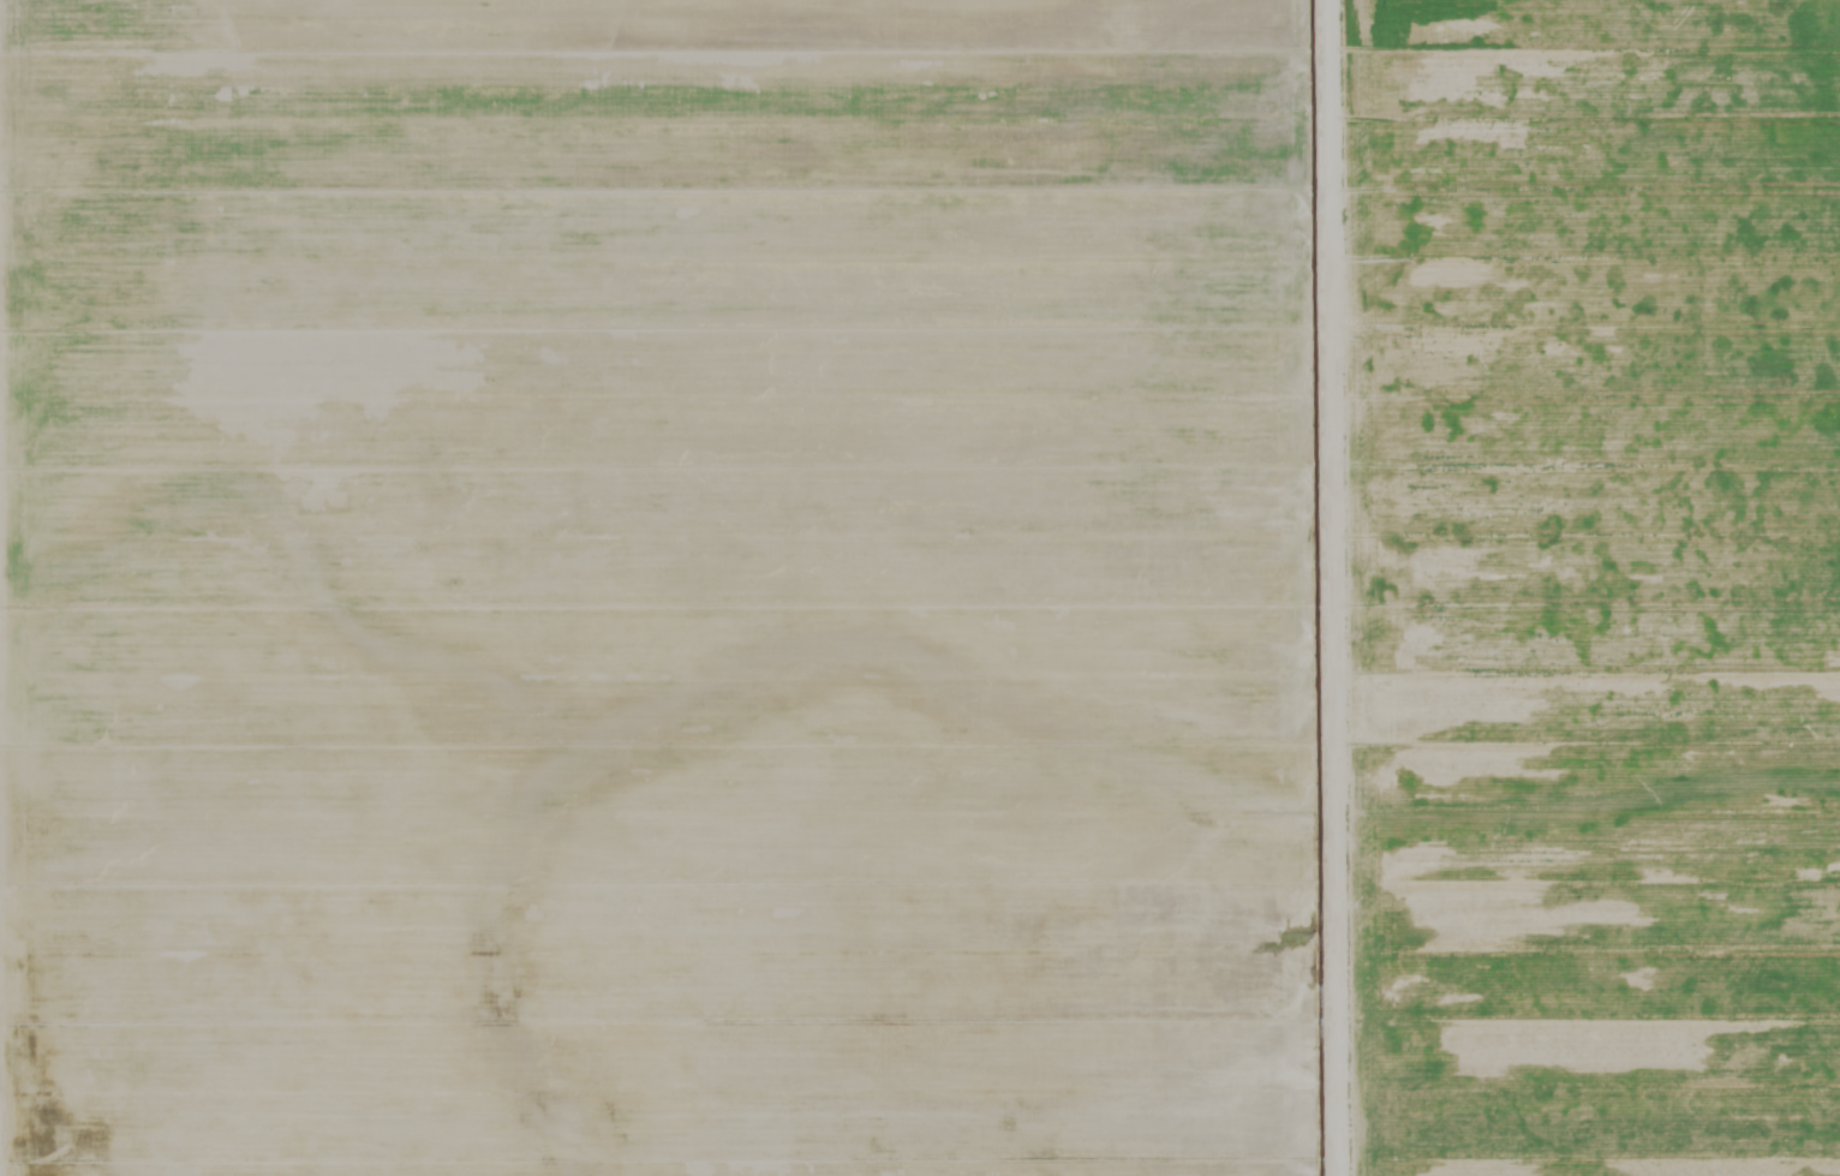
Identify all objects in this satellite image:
crop: (920, 587)

